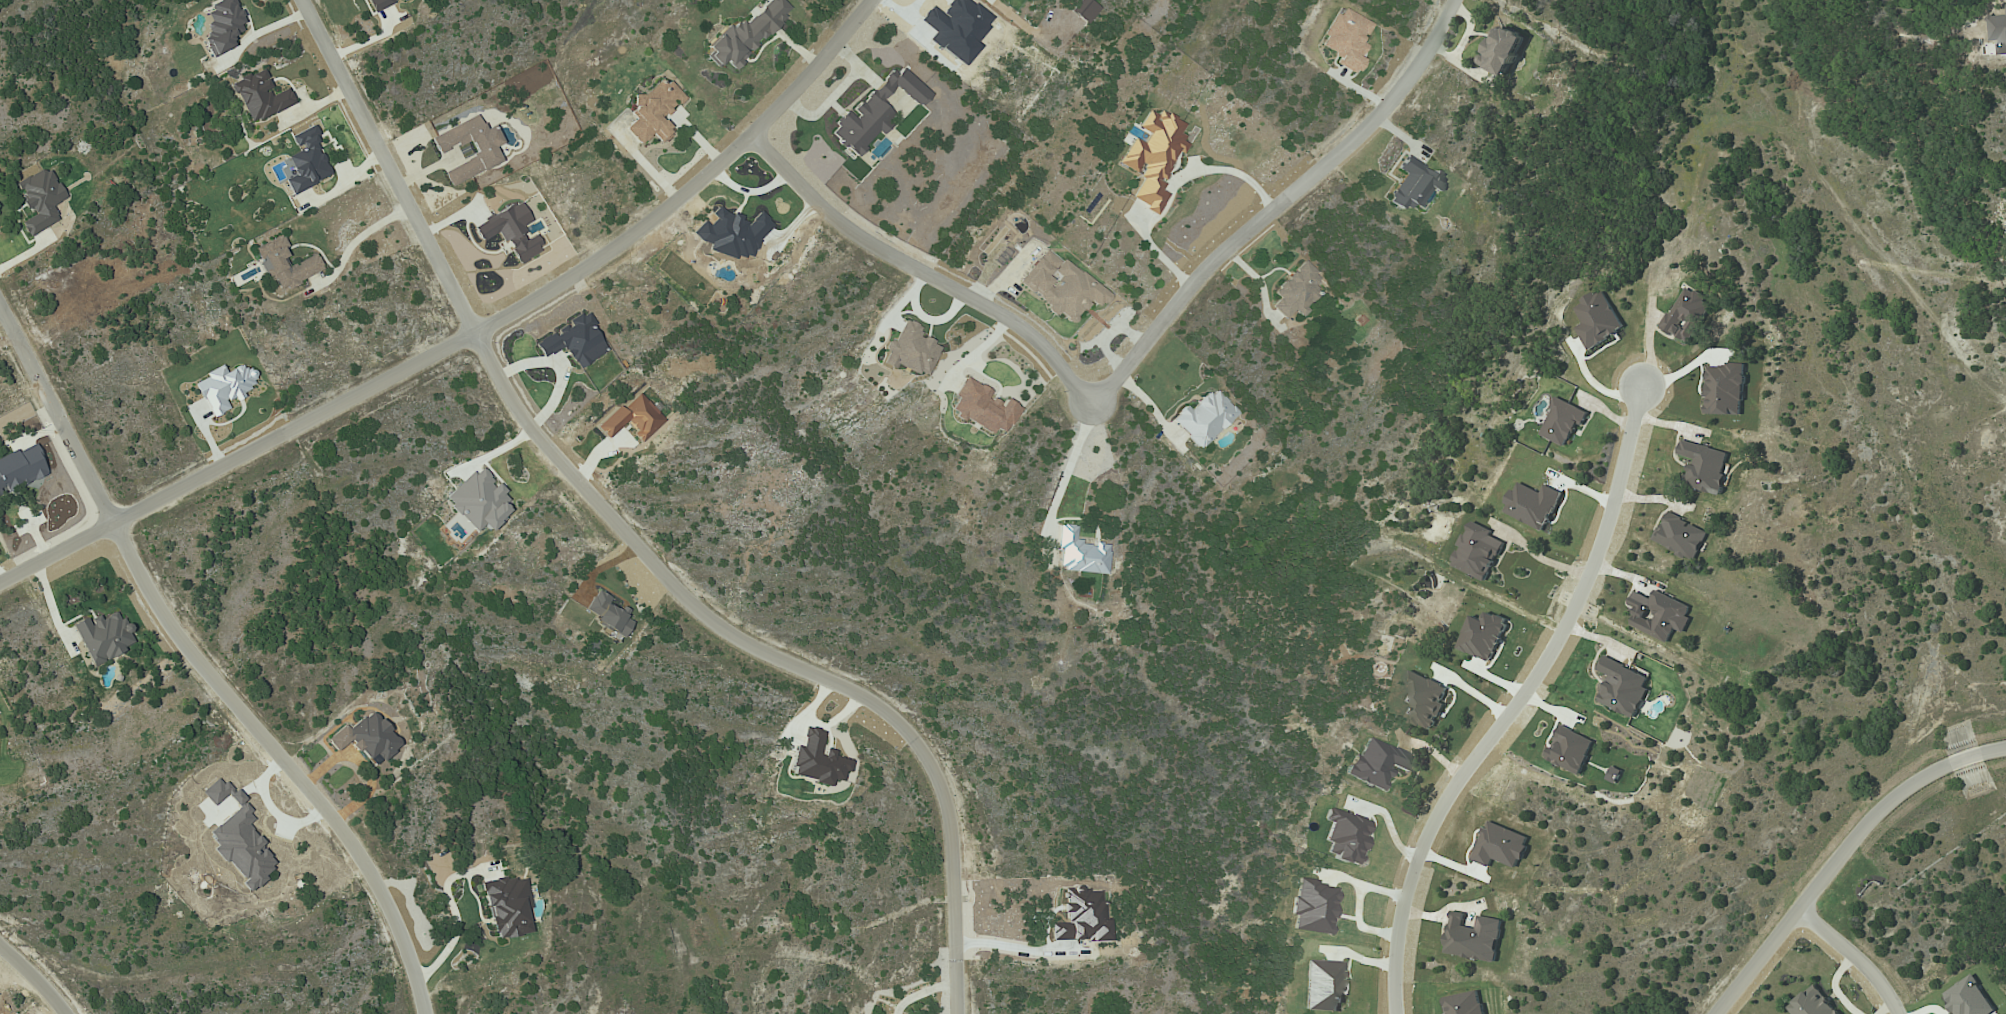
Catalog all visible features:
building: (403, 0)
building: (379, 4)
building: (1083, 10)
building: (222, 25)
building: (745, 34)
building: (1345, 39)
building: (1503, 50)
road: (833, 95)
building: (259, 97)
building: (874, 111)
building: (652, 112)
building: (483, 150)
building: (1152, 157)
building: (305, 161)
building: (1413, 185)
road: (1172, 187)
building: (39, 200)
road: (1275, 207)
building: (509, 231)
road: (355, 239)
building: (284, 265)
road: (921, 274)
building: (1059, 286)
building: (1295, 291)
building: (1686, 314)
building: (1596, 319)
road: (464, 330)
building: (573, 341)
building: (910, 350)
building: (223, 387)
building: (1724, 389)
road: (1152, 406)
building: (980, 408)
building: (631, 418)
building: (1203, 418)
building: (1562, 421)
building: (1704, 466)
building: (20, 468)
road: (1069, 470)
building: (477, 501)
building: (1680, 536)
road: (629, 540)
building: (1477, 551)
building: (1079, 554)
road: (1536, 557)
road: (1, 578)
road: (48, 607)
building: (605, 613)
building: (1659, 614)
building: (102, 637)
road: (206, 668)
building: (1622, 688)
building: (1423, 699)
road: (1515, 702)
building: (365, 738)
building: (1570, 750)
building: (816, 760)
building: (1377, 763)
building: (1500, 846)
road: (1839, 853)
building: (506, 907)
building: (1312, 908)
building: (1080, 917)
road: (457, 923)
building: (1474, 938)
road: (1010, 948)
road: (1854, 955)
road: (32, 981)
building: (1322, 986)
road: (921, 989)
building: (1968, 998)
building: (1811, 1003)

